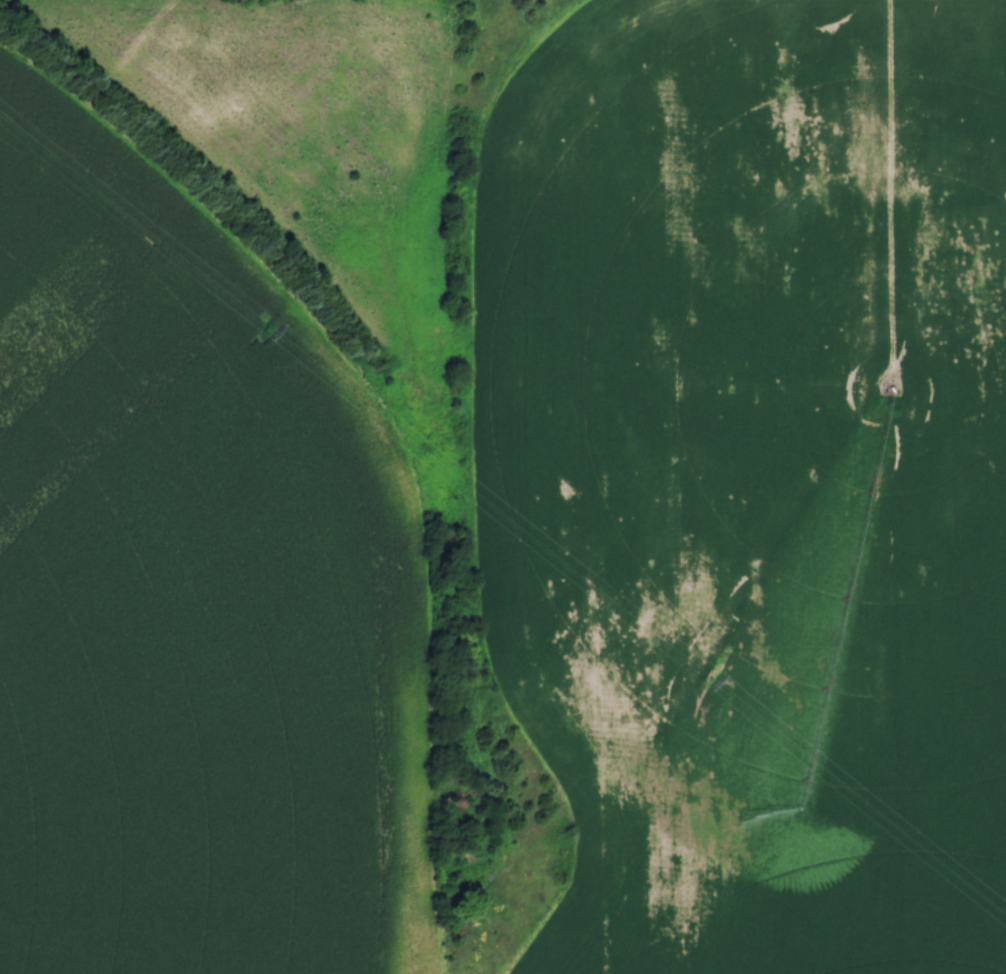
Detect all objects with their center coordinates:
power tower: (264, 334)
power tower: (707, 684)

